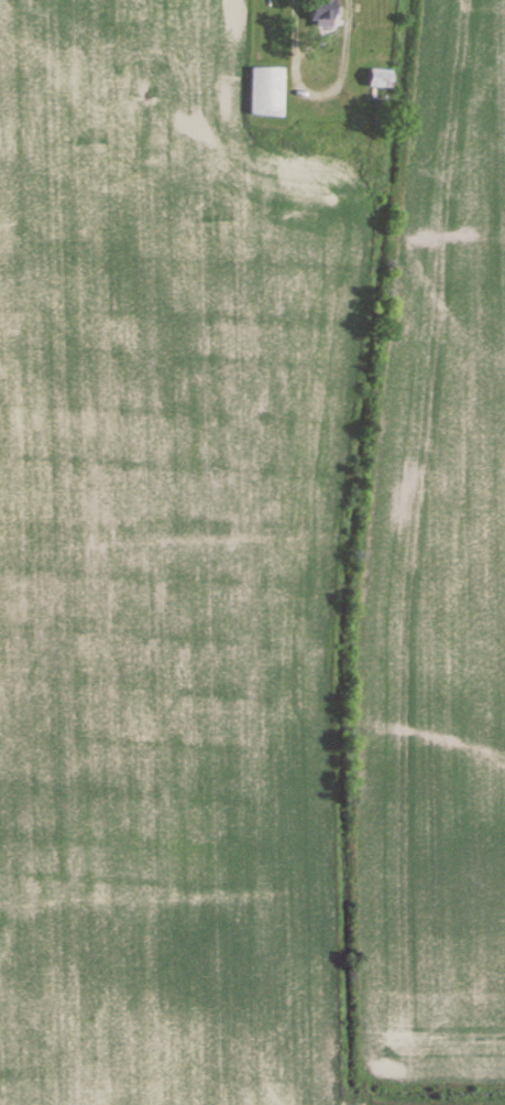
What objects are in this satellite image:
building: (325, 13)
building: (381, 78)
building: (267, 93)
building: (382, 144)
building: (323, 147)

